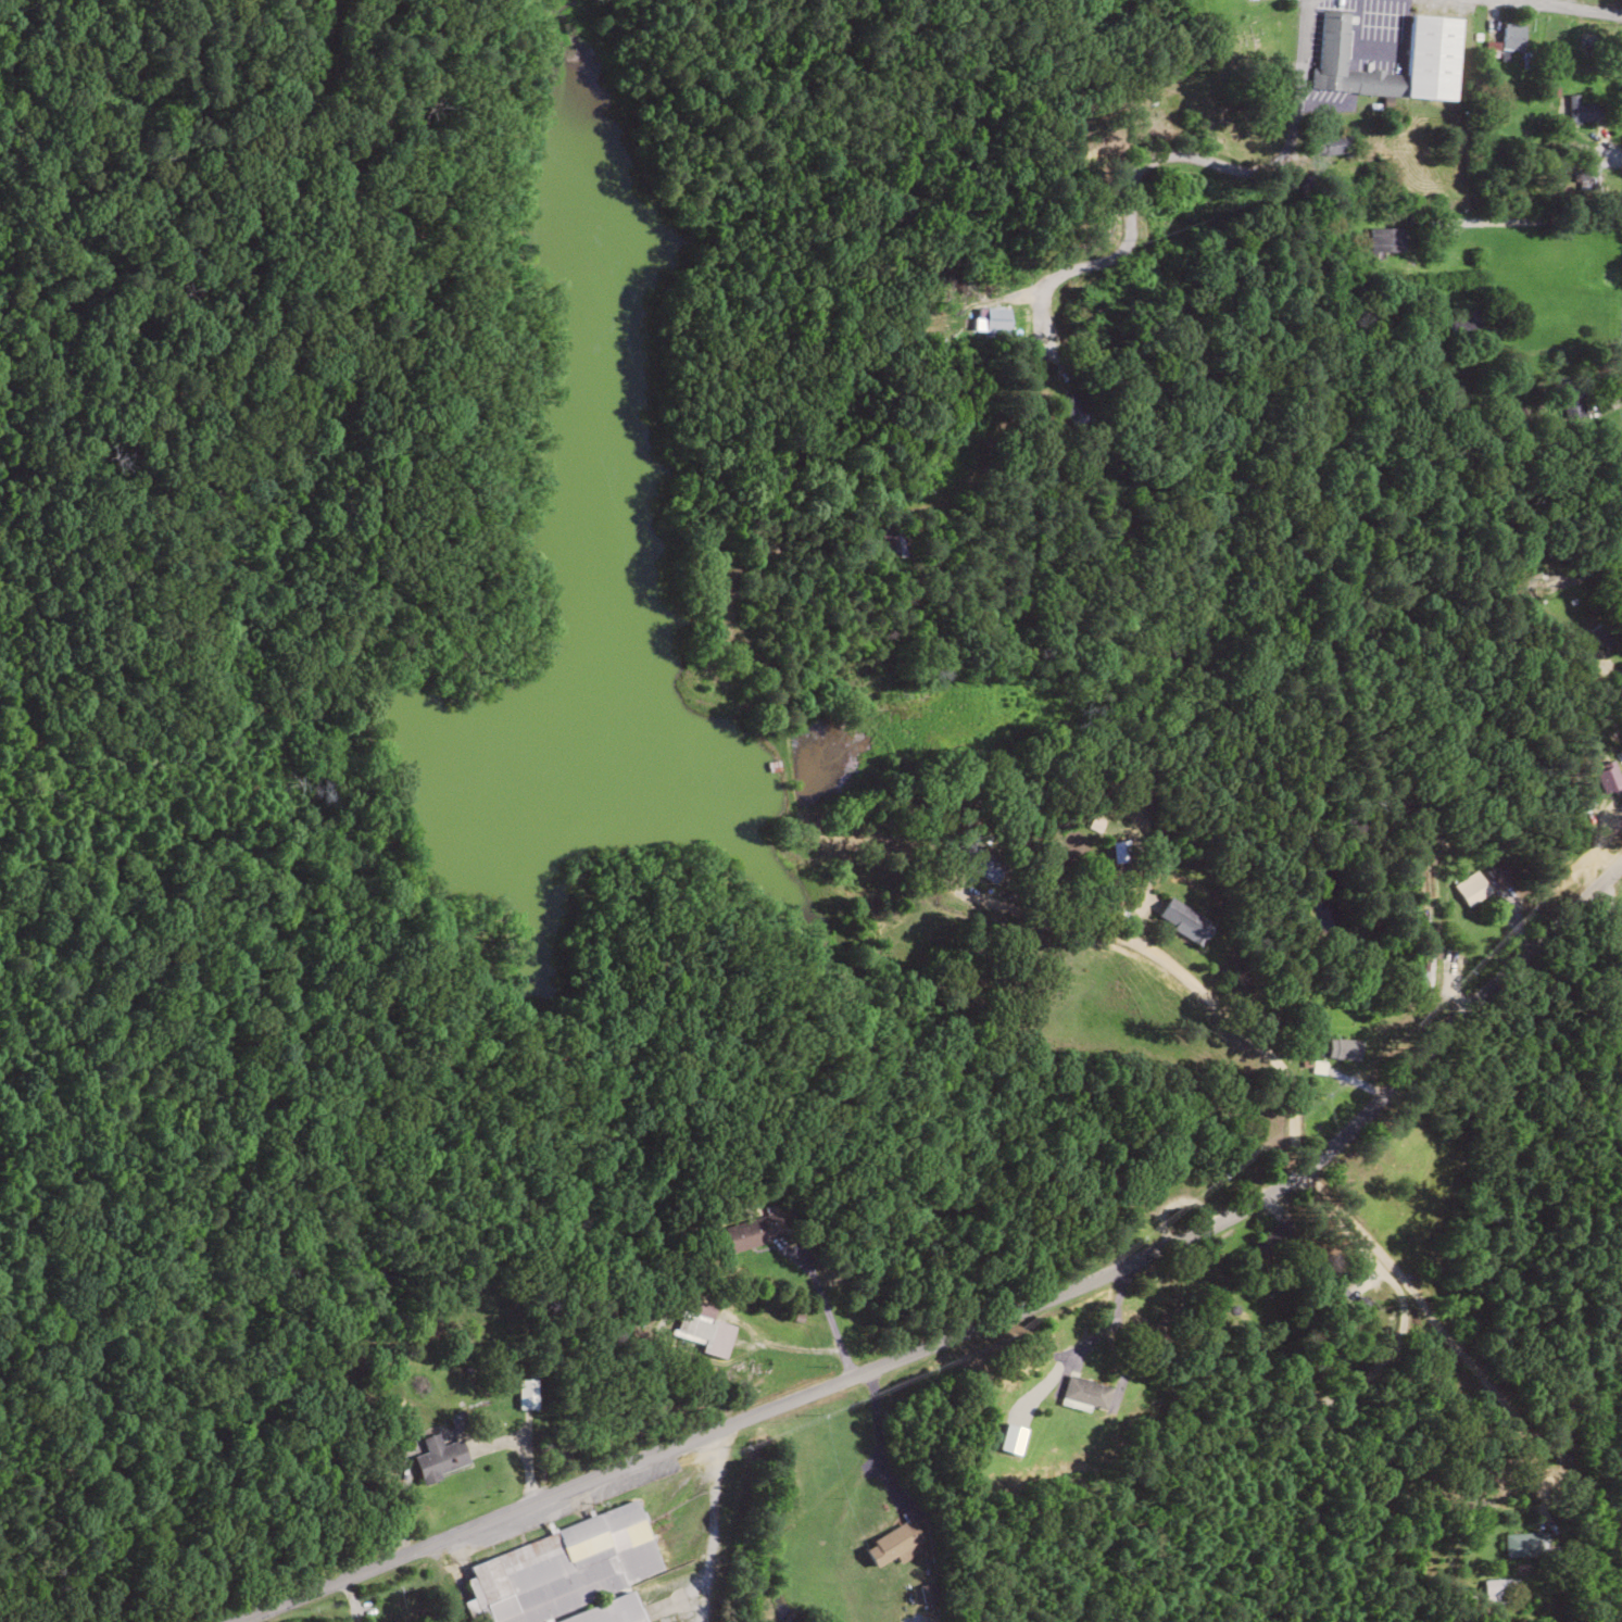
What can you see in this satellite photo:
road: (1543, 10)
building: (1436, 41)
building: (1511, 41)
building: (1589, 43)
building: (1581, 109)
building: (1338, 144)
road: (1166, 159)
building: (1386, 239)
building: (995, 323)
building: (1073, 410)
building: (892, 544)
building: (1604, 634)
building: (1607, 778)
building: (988, 866)
building: (1501, 878)
building: (1472, 889)
building: (1183, 920)
building: (1345, 1049)
building: (754, 1231)
building: (1277, 1236)
road: (1441, 1261)
road: (1487, 1265)
road: (716, 1285)
road: (985, 1337)
building: (1086, 1392)
building: (527, 1394)
building: (457, 1420)
building: (441, 1457)
building: (894, 1544)
building: (1526, 1544)
building: (565, 1568)
building: (1499, 1592)
building: (611, 1611)

